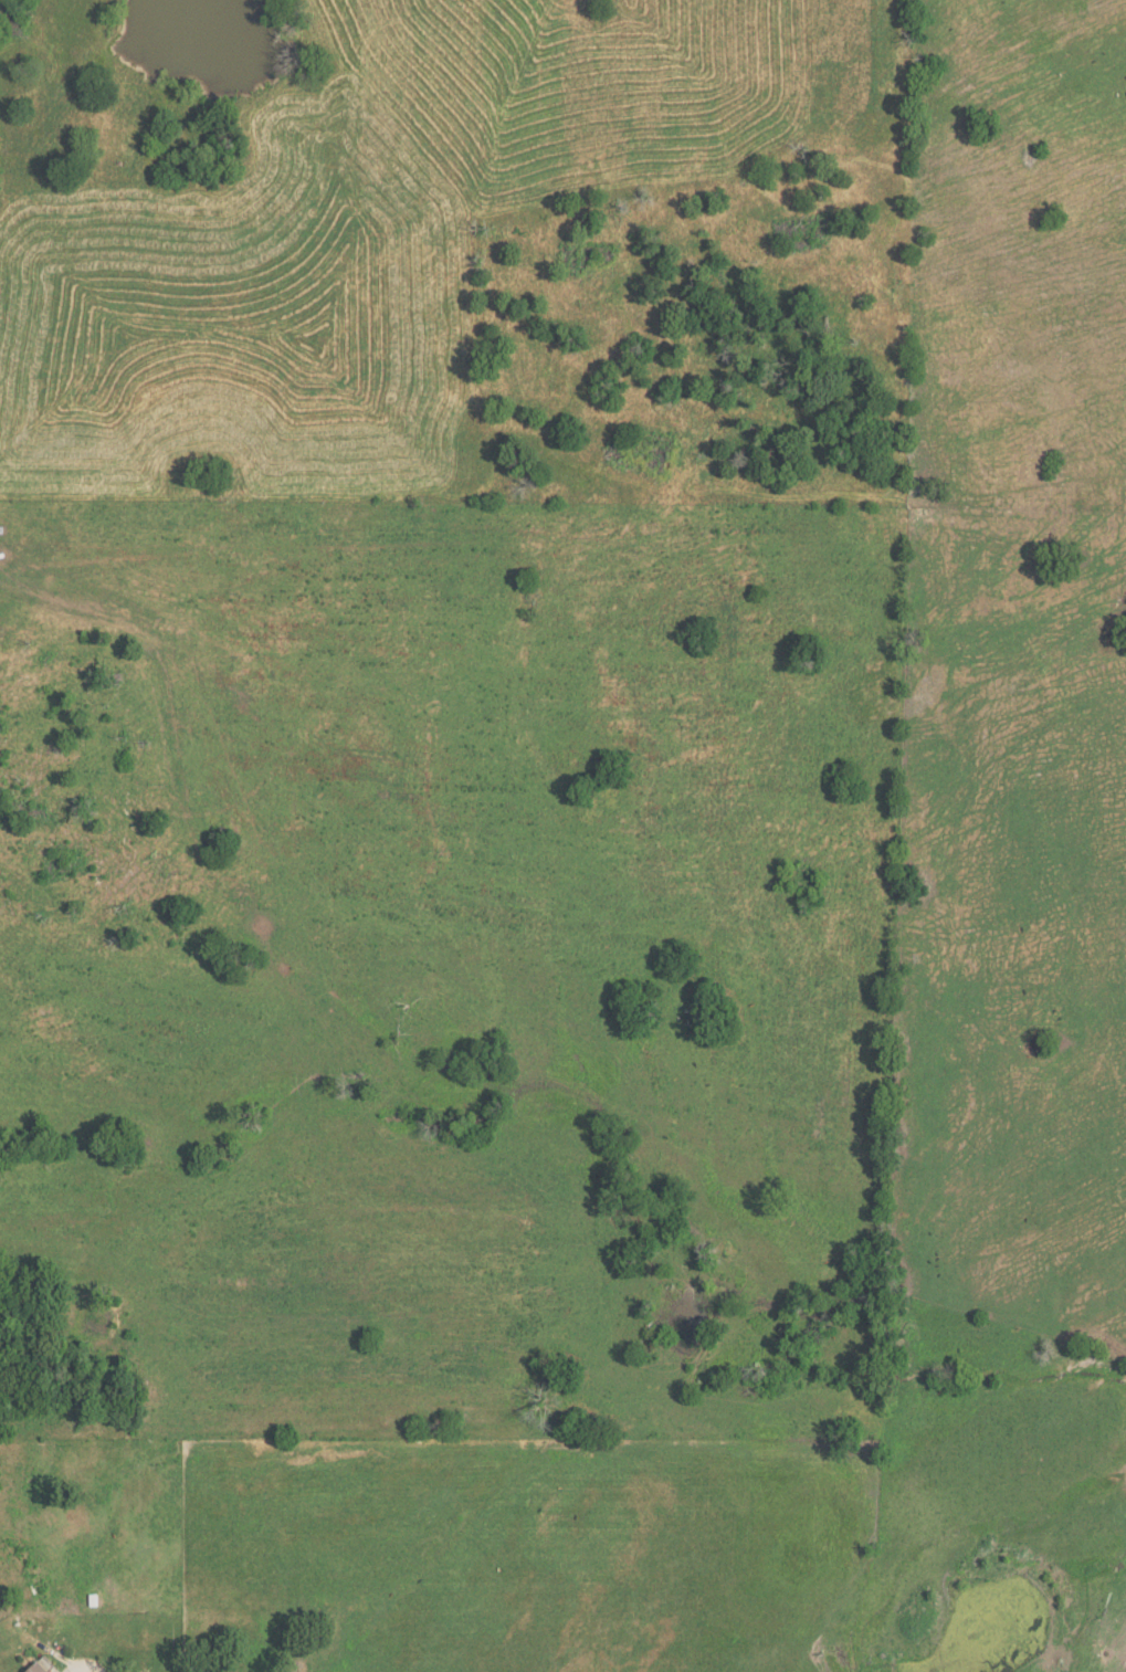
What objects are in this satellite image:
building: (42, 1668)

